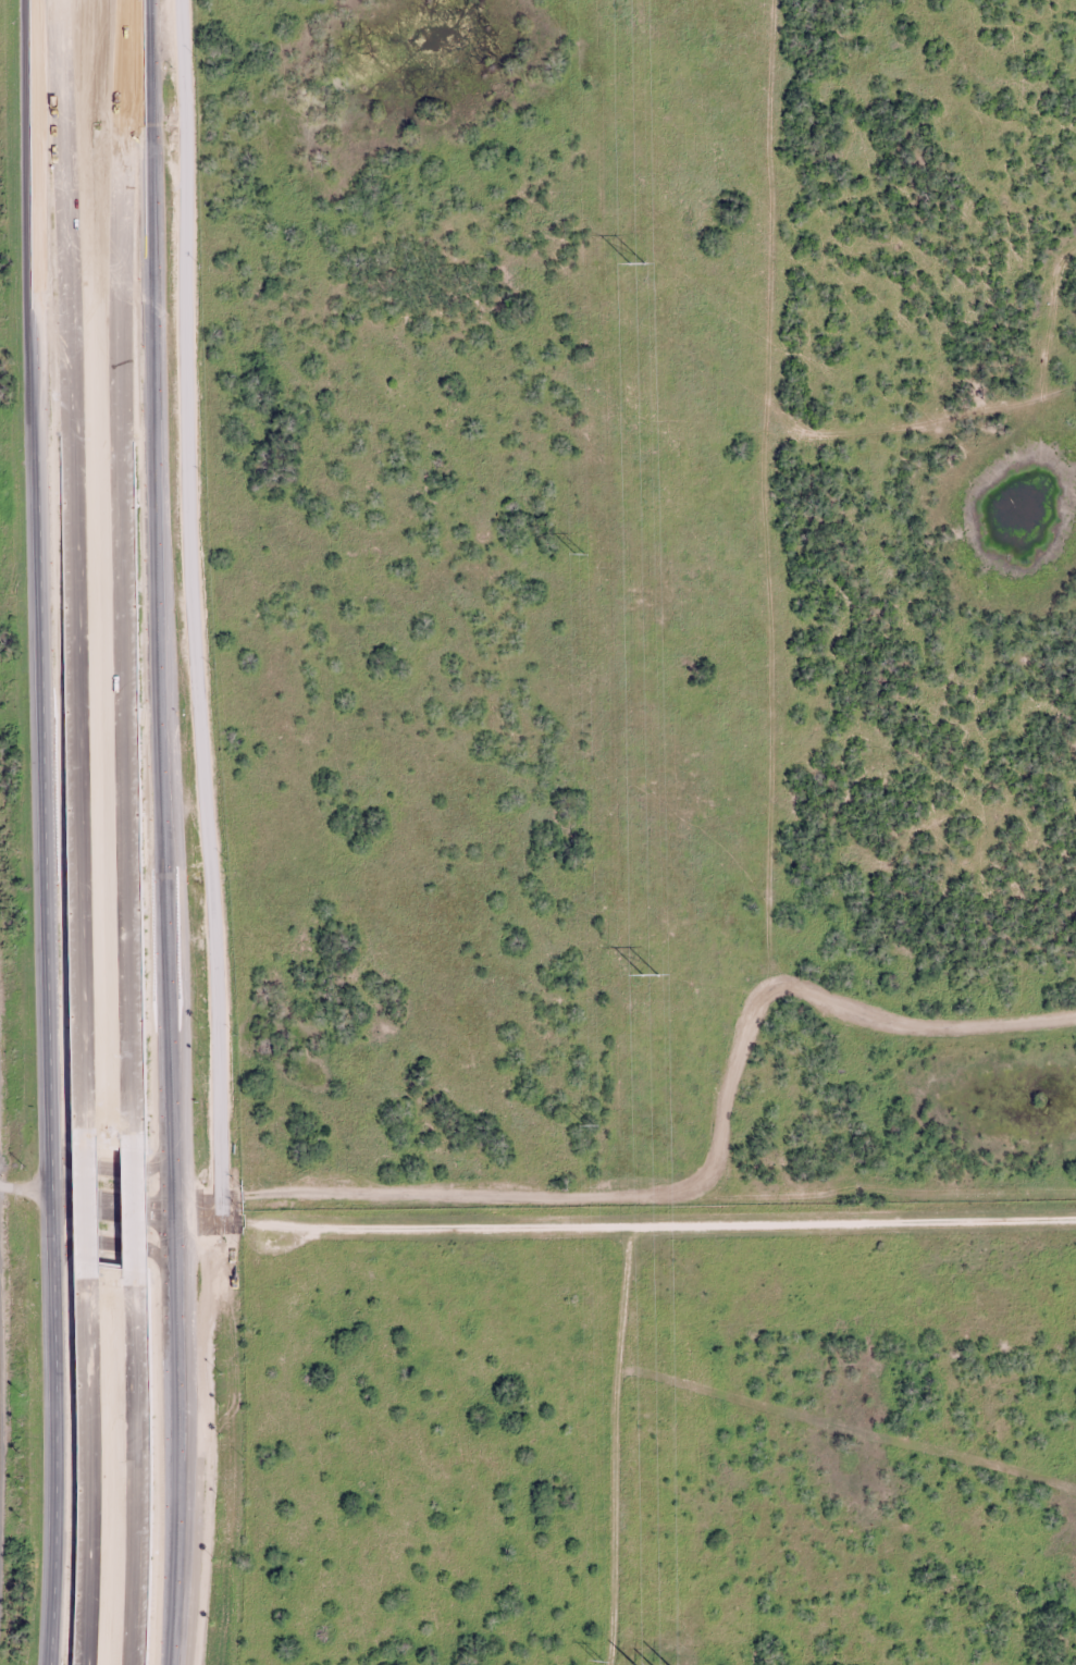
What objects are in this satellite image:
power tower: (638, 263)
road: (823, 308)
power tower: (580, 554)
road: (77, 560)
road: (44, 562)
road: (121, 563)
road: (158, 604)
road: (191, 605)
power tower: (652, 974)
power tower: (590, 1125)
road: (51, 1157)
road: (97, 1164)
road: (84, 1195)
road: (78, 1197)
road: (124, 1204)
road: (621, 1233)
road: (112, 1241)
road: (170, 1311)
road: (53, 1392)
road: (84, 1468)
road: (126, 1472)
road: (170, 1524)
road: (49, 1629)
road: (168, 1648)
power tower: (601, 1661)

